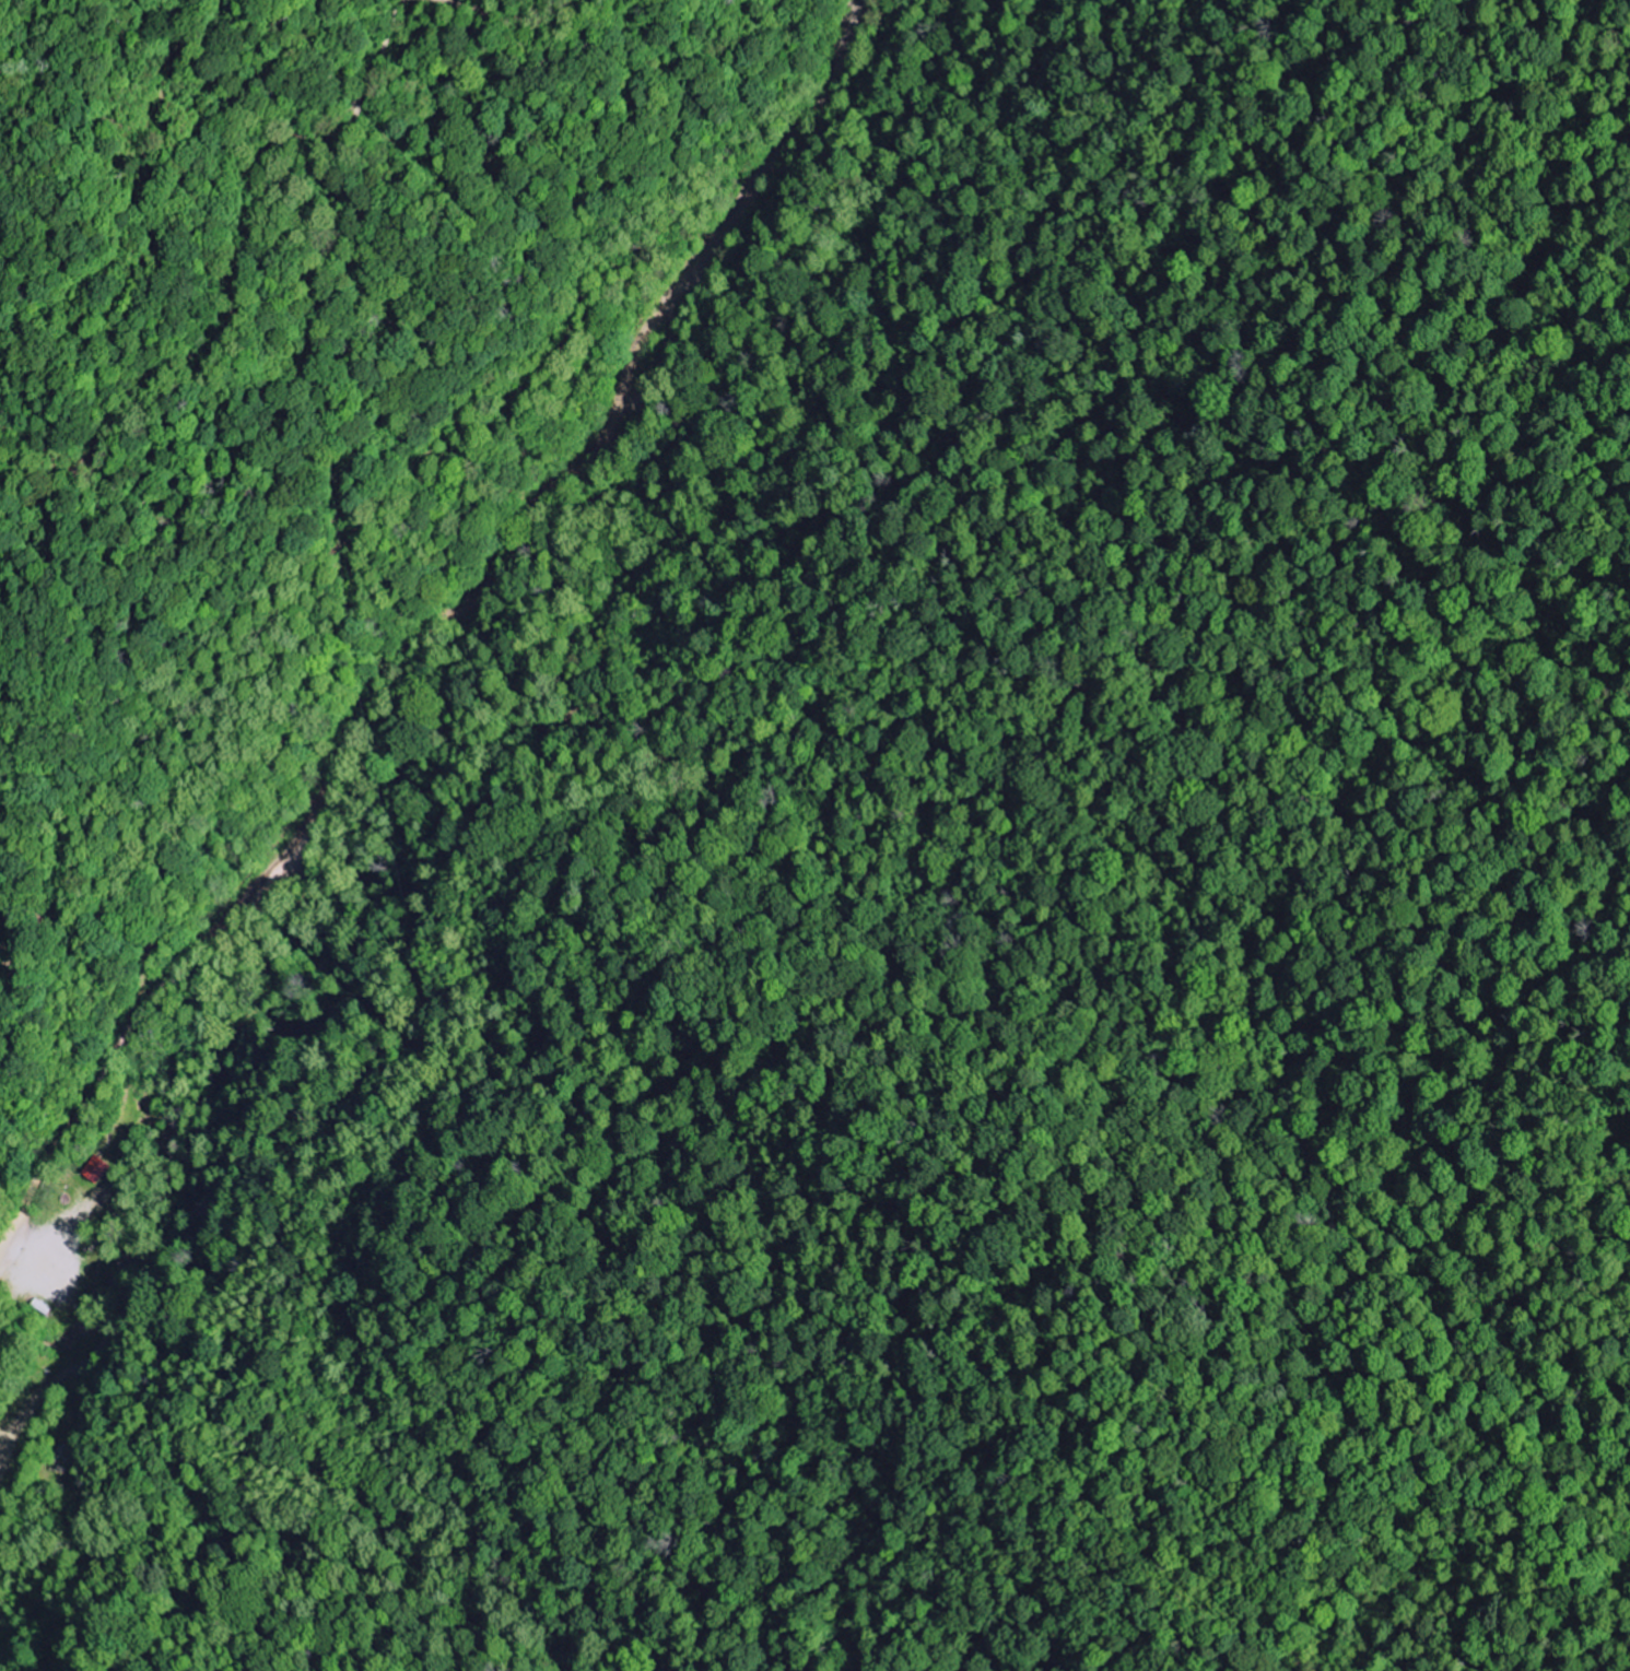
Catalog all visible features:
building: (94, 1169)
road: (27, 1200)

